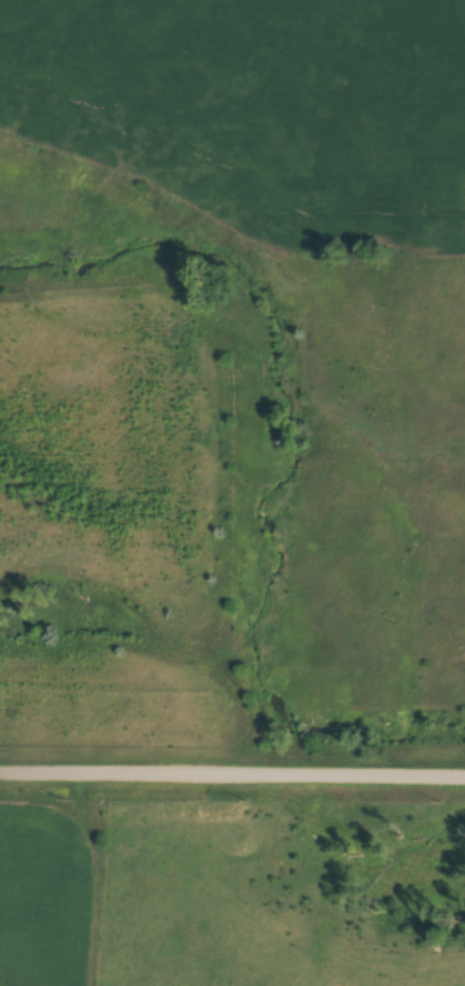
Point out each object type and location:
road: (232, 769)

